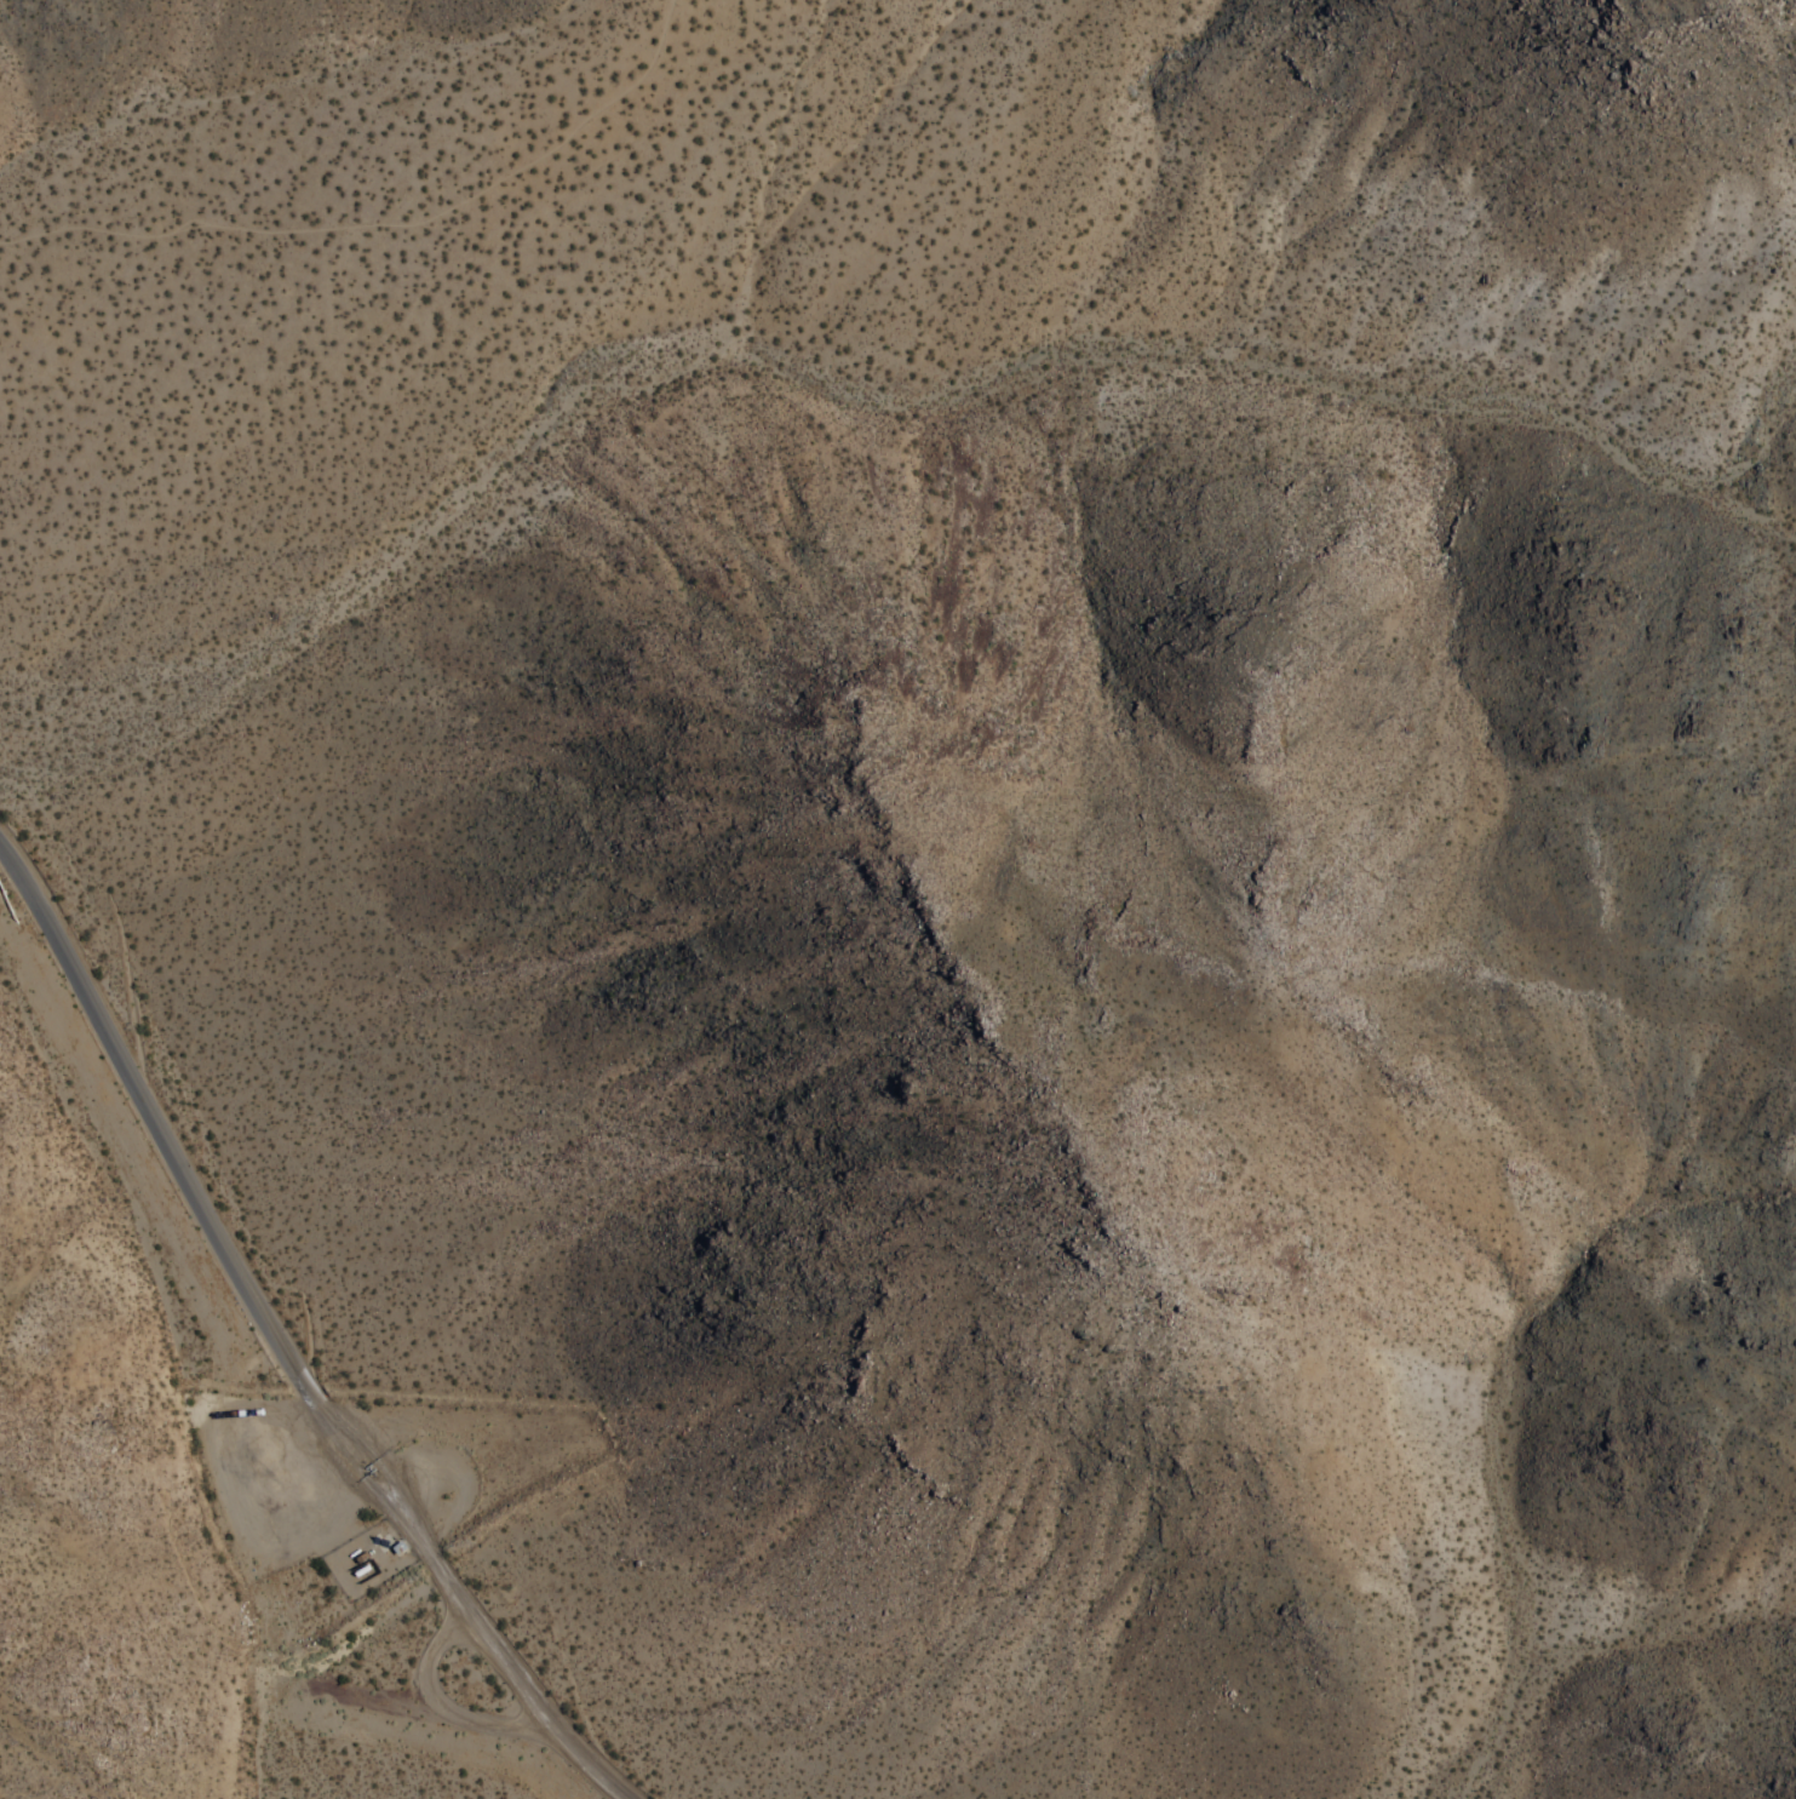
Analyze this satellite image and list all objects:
road: (279, 1347)
building: (365, 1575)

